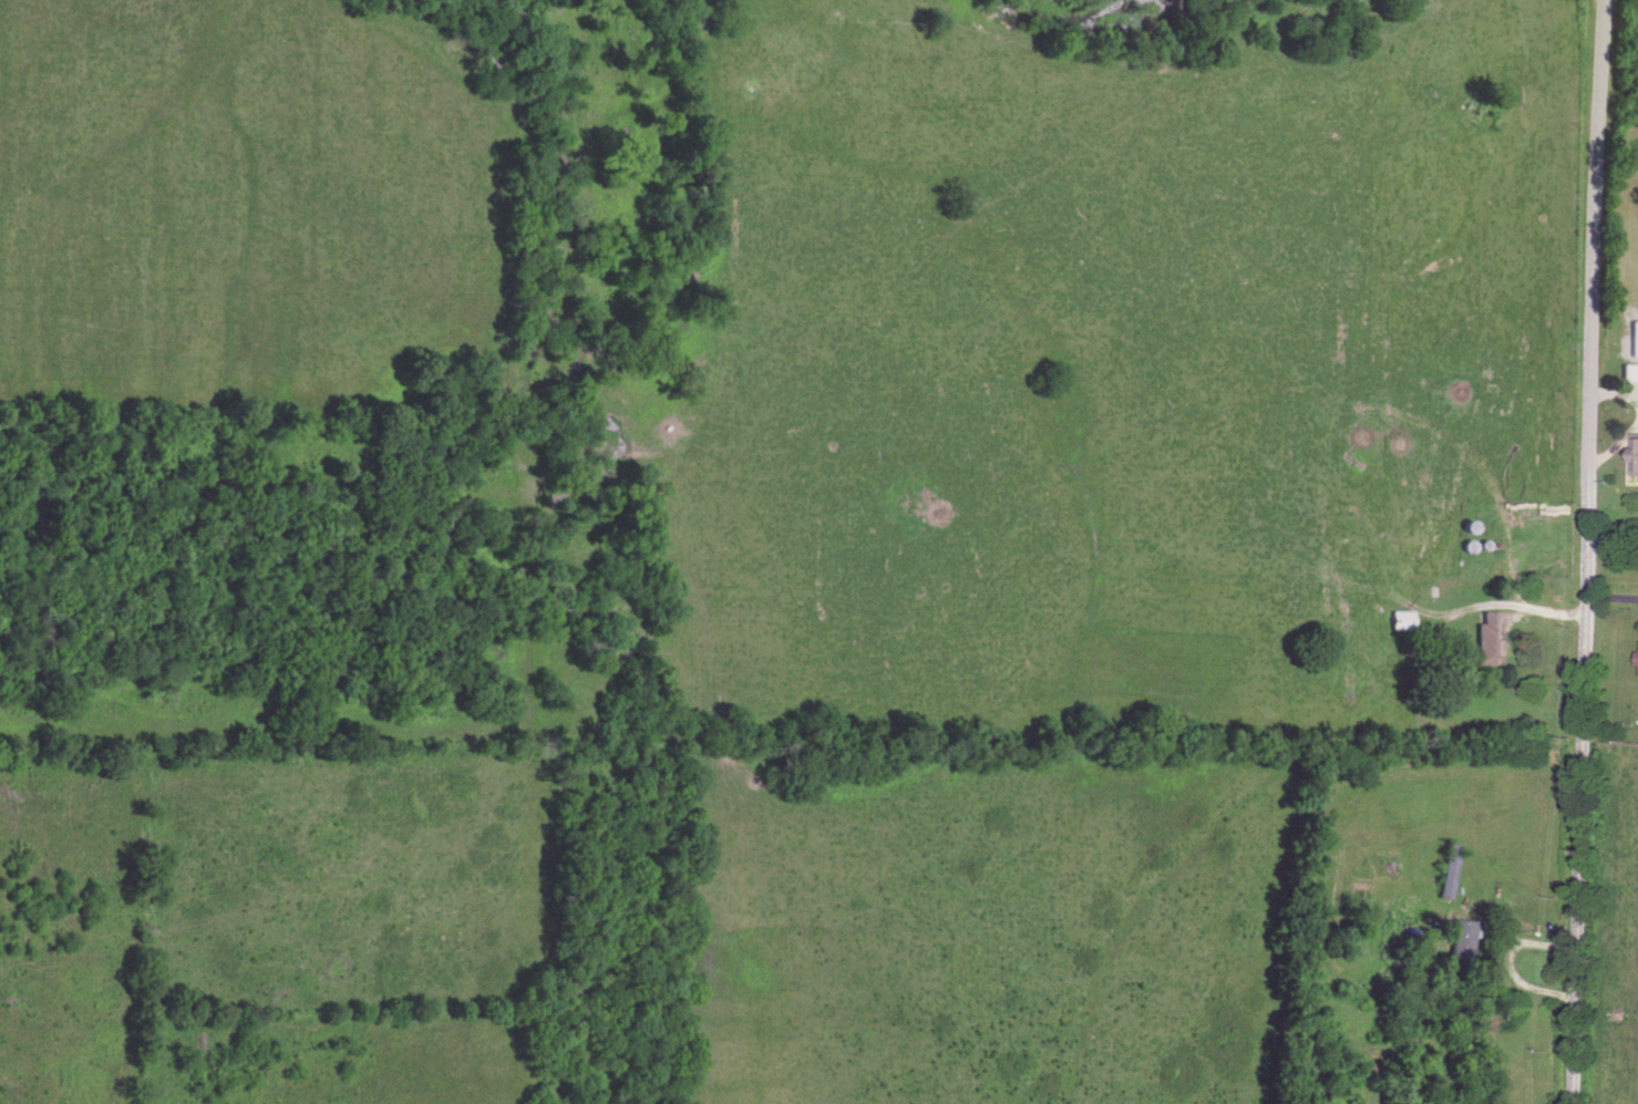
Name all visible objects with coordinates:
building: (1636, 334)
building: (1630, 368)
road: (1585, 551)
building: (1494, 634)
building: (1465, 936)

